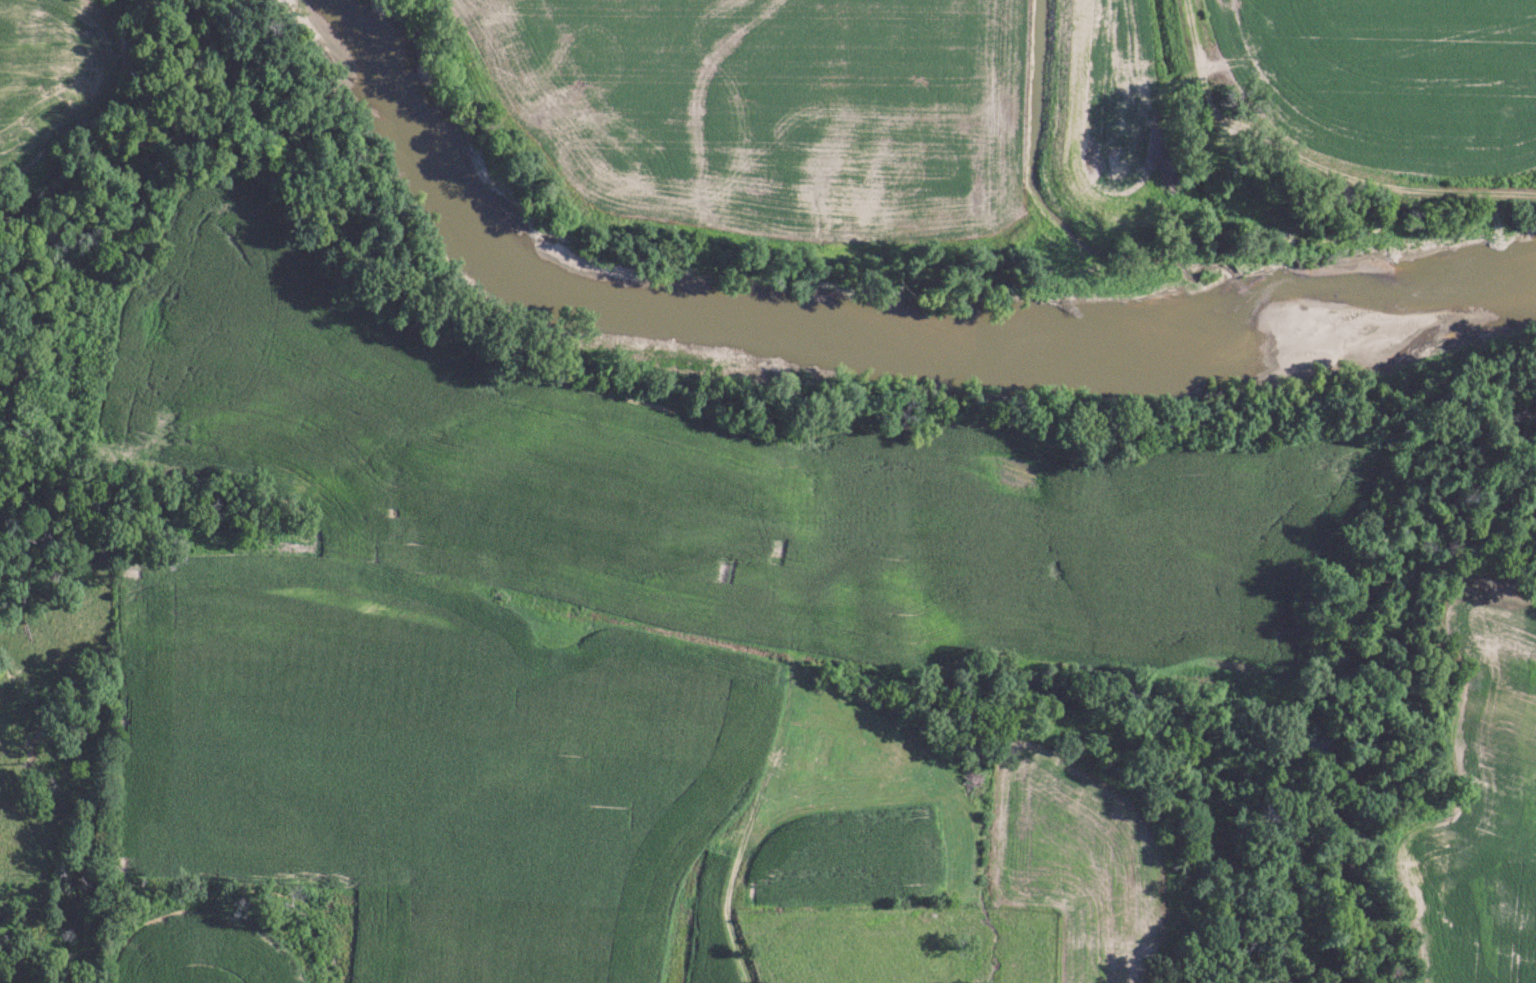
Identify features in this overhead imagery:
river: (853, 329)
road: (788, 536)
road: (764, 784)

